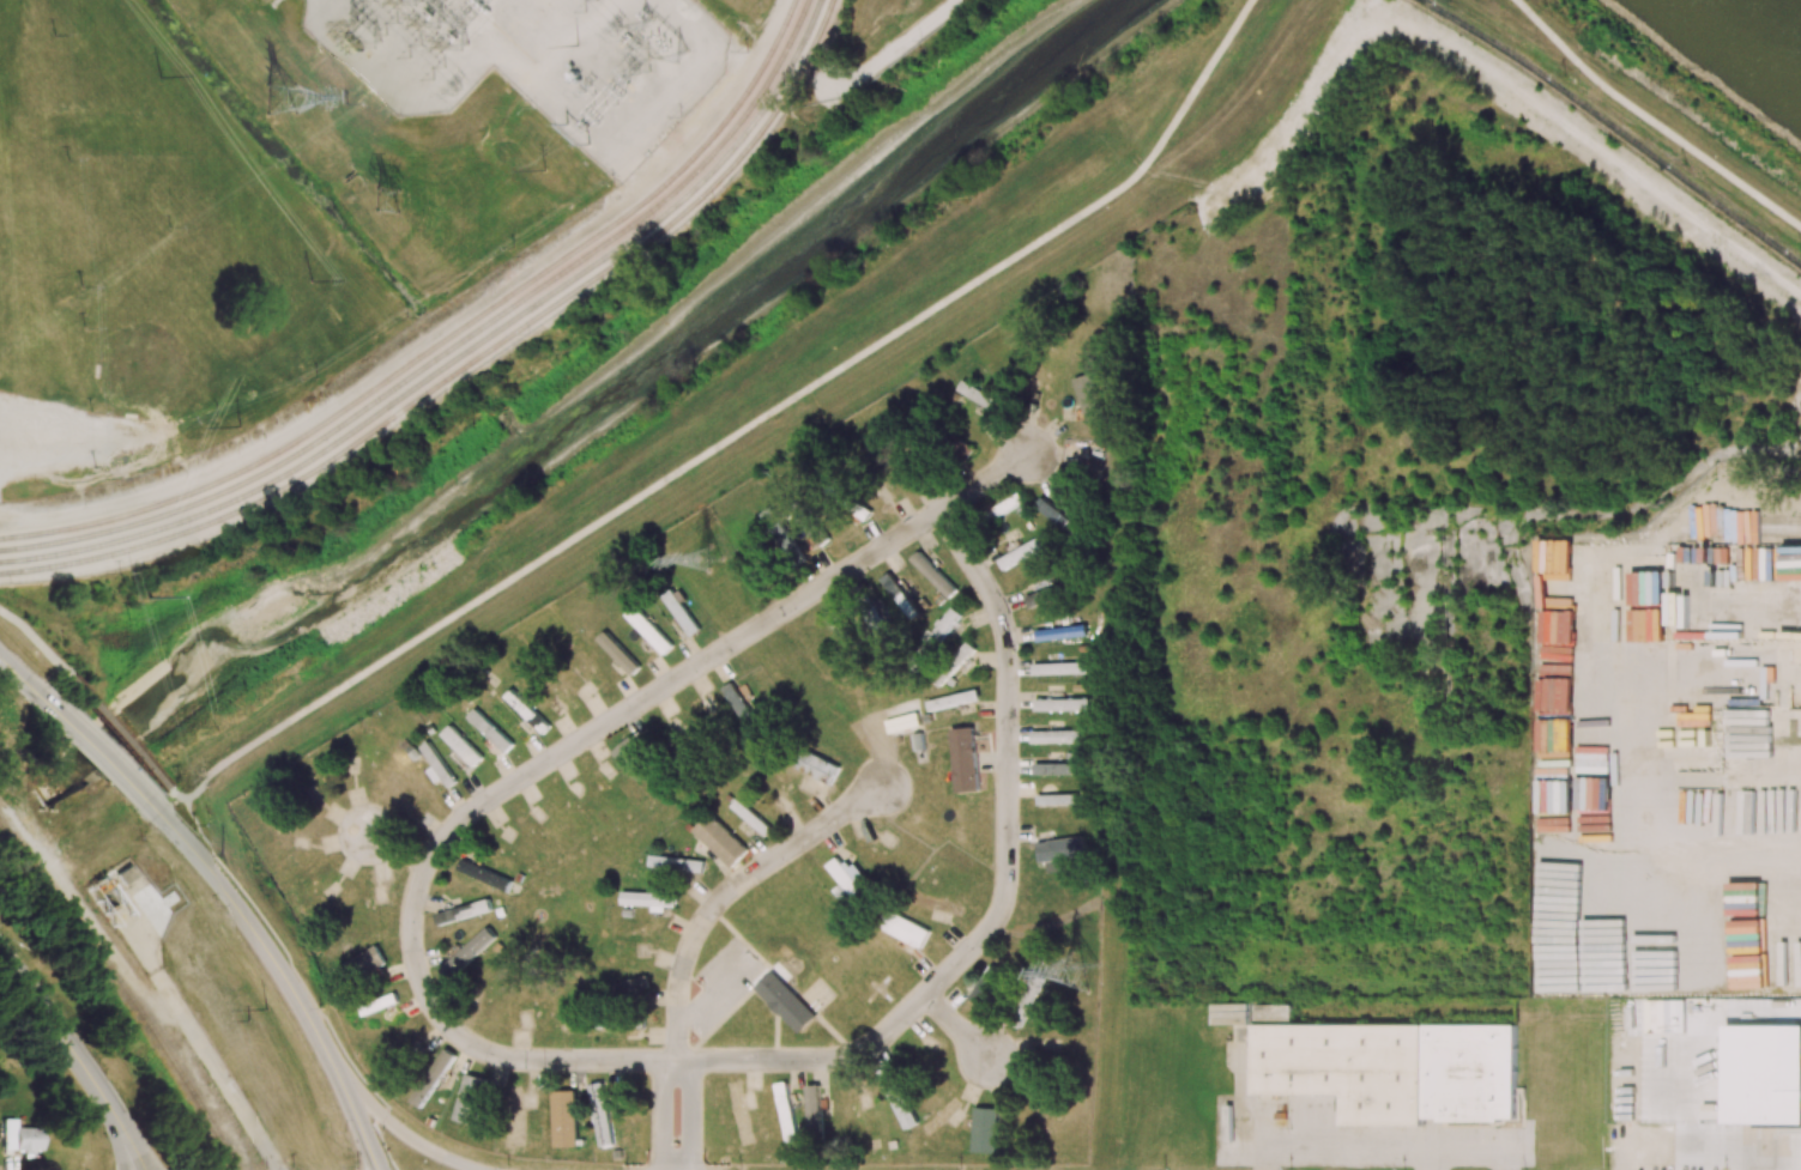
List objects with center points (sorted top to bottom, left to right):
power tower: (689, 25)
power tower: (355, 46)
power substation: (539, 61)
power tower: (159, 78)
power tower: (283, 101)
road: (1652, 119)
railway: (1615, 126)
power tower: (385, 200)
power tower: (310, 281)
railway: (446, 340)
railway: (454, 347)
park: (156, 356)
railway: (463, 356)
railway: (470, 364)
building: (979, 395)
building: (1089, 398)
power tower: (237, 425)
road: (747, 429)
road: (986, 481)
building: (1007, 504)
building: (1057, 517)
building: (779, 529)
building: (1023, 551)
power tower: (707, 560)
building: (933, 574)
building: (1048, 594)
building: (900, 595)
power tower: (150, 598)
building: (682, 612)
building: (944, 626)
building: (648, 630)
building: (1060, 632)
road: (35, 643)
building: (618, 653)
building: (963, 653)
building: (1059, 668)
road: (690, 673)
road: (17, 677)
building: (953, 699)
building: (1062, 704)
building: (739, 705)
building: (526, 710)
building: (489, 731)
road: (116, 734)
building: (1060, 736)
building: (461, 745)
road: (99, 757)
building: (633, 759)
building: (965, 759)
building: (435, 765)
building: (817, 766)
building: (1057, 769)
road: (174, 796)
building: (1057, 799)
building: (750, 817)
building: (720, 839)
building: (1059, 848)
road: (397, 849)
power tower: (220, 855)
building: (675, 863)
building: (483, 874)
building: (846, 880)
road: (729, 892)
building: (649, 899)
building: (463, 911)
building: (907, 930)
building: (467, 953)
road: (290, 959)
building: (359, 965)
power tower: (1077, 974)
road: (290, 983)
building: (634, 984)
building: (987, 986)
railway: (126, 989)
building: (1027, 994)
building: (785, 1001)
building: (377, 1004)
power tower: (264, 1011)
building: (1249, 1017)
road: (961, 1030)
road: (857, 1051)
road: (77, 1056)
building: (440, 1065)
building: (1394, 1069)
building: (1763, 1072)
building: (470, 1098)
building: (898, 1098)
building: (812, 1107)
building: (786, 1111)
building: (602, 1113)
road: (666, 1115)
road: (695, 1116)
building: (564, 1119)
road: (387, 1120)
building: (984, 1129)
building: (19, 1139)

